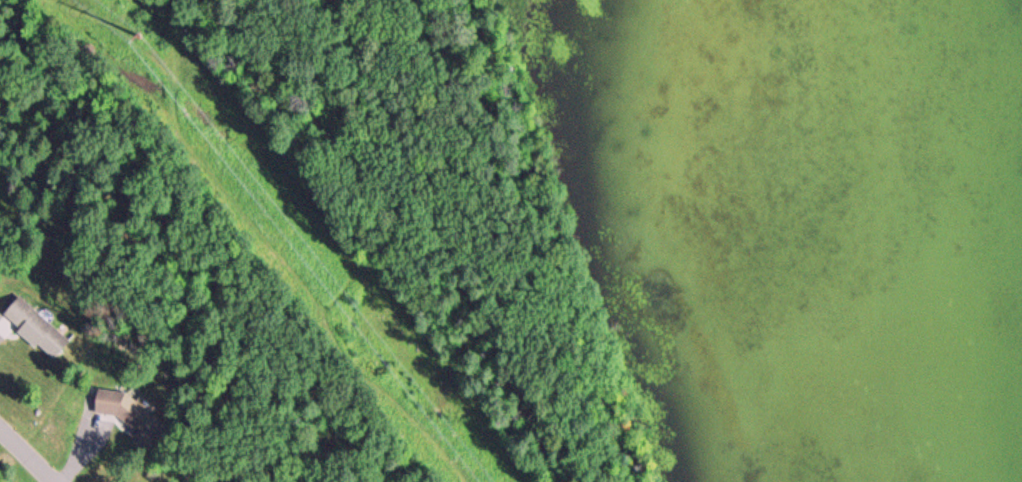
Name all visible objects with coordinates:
power tower: (142, 36)
road: (445, 238)
building: (34, 326)
building: (117, 407)
road: (24, 458)

